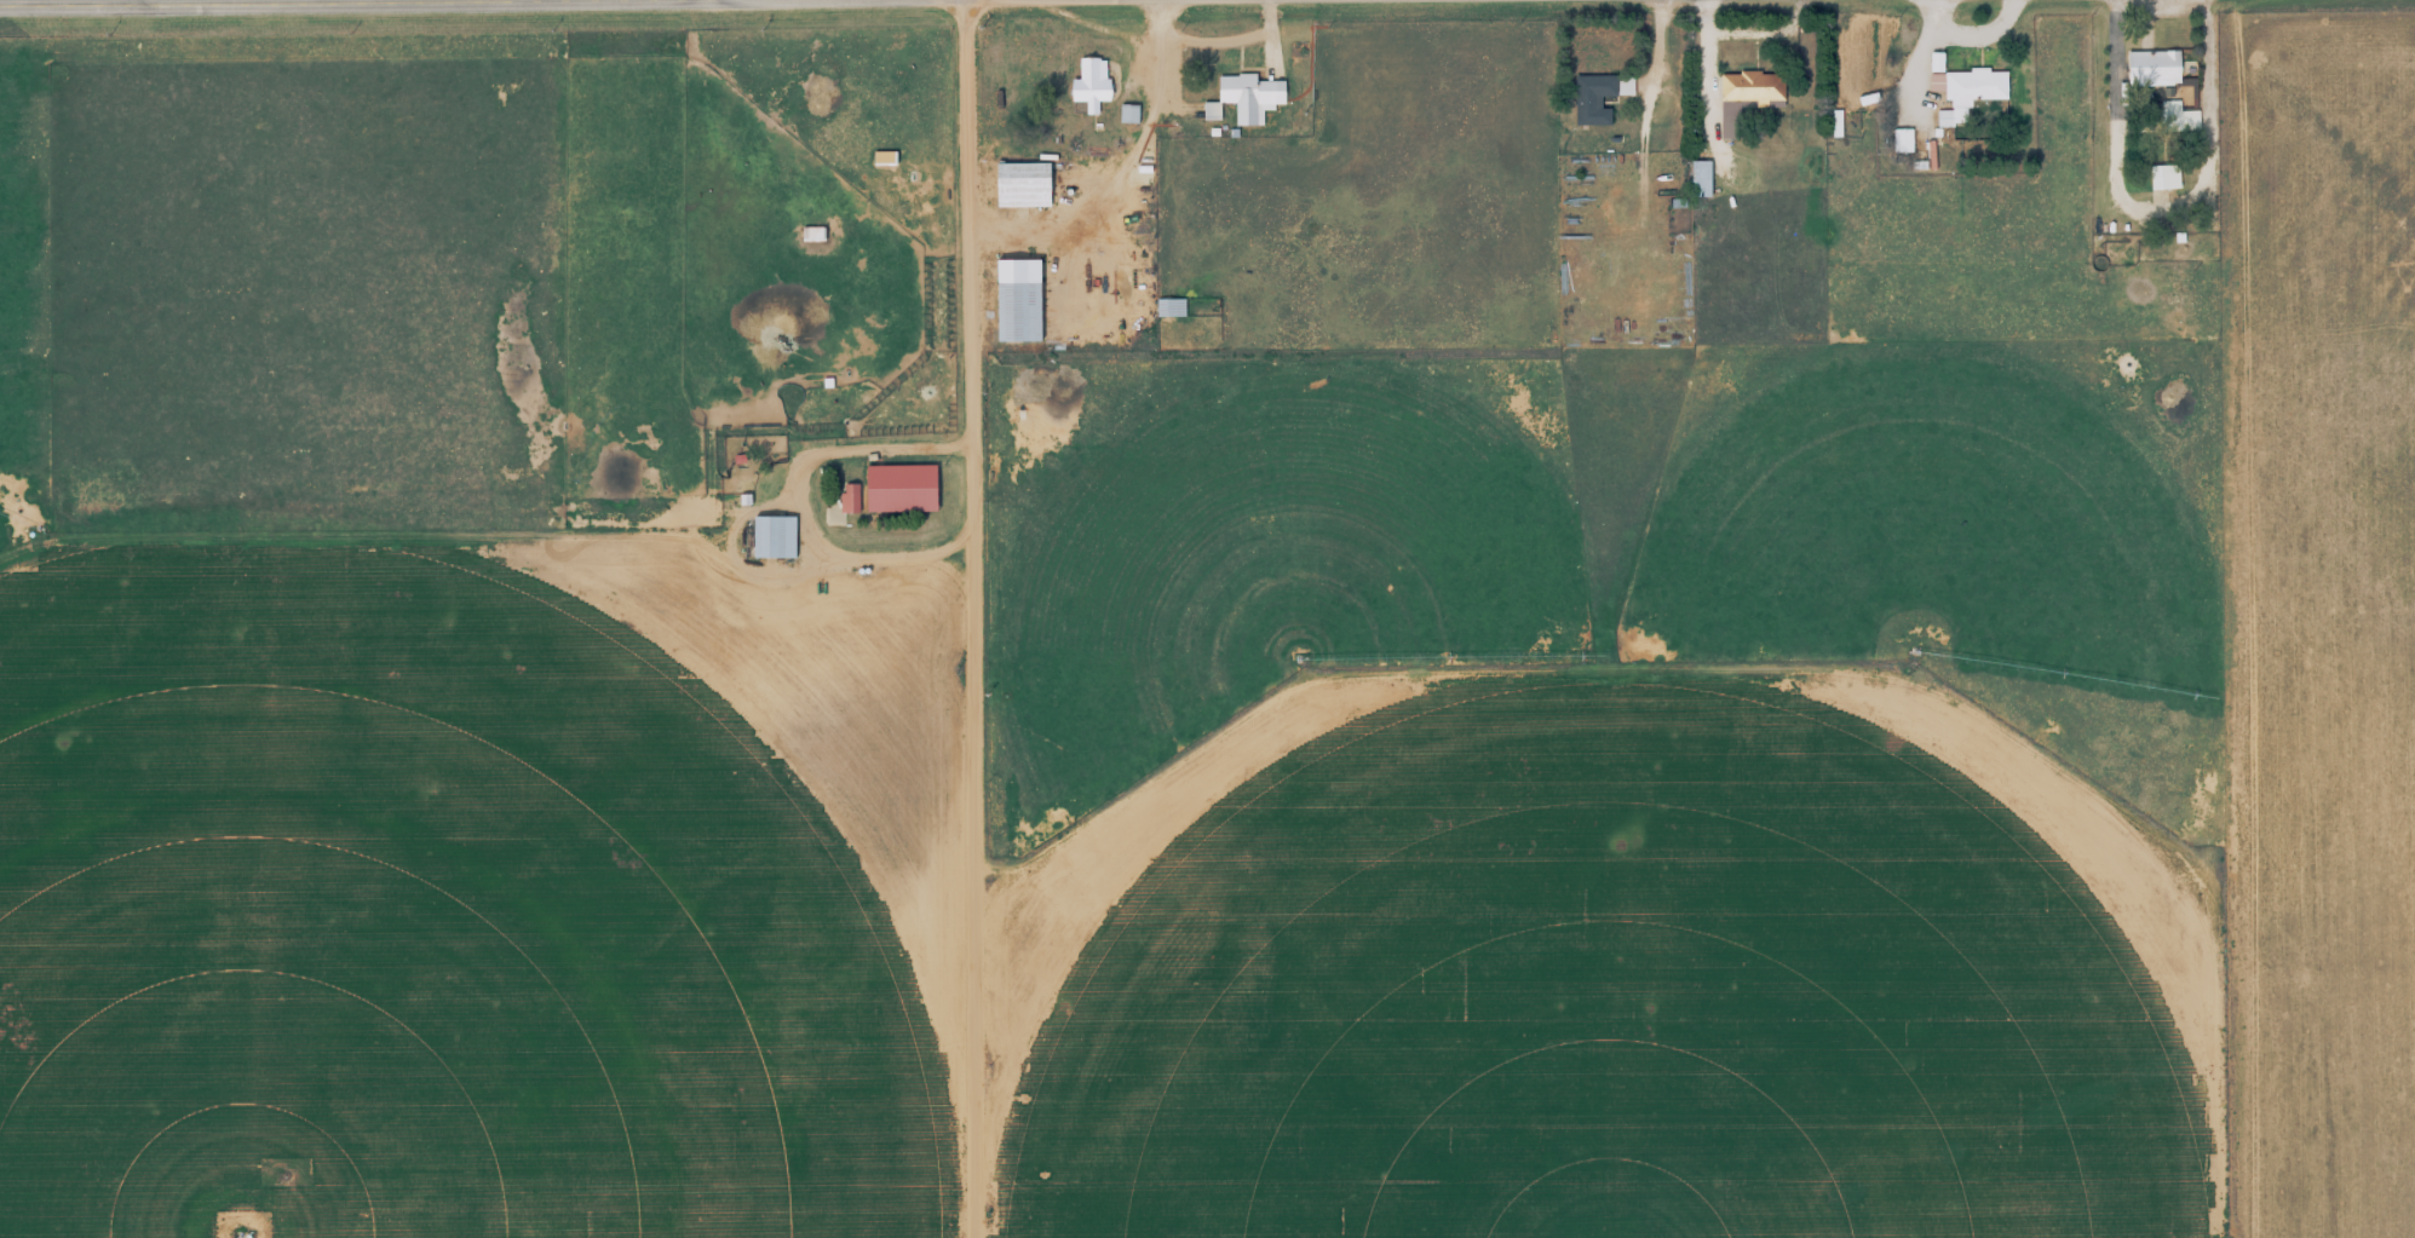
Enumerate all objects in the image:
road: (649, 6)
building: (1087, 85)
building: (1971, 87)
building: (2161, 88)
building: (1749, 90)
building: (1595, 98)
building: (1242, 99)
building: (1126, 115)
building: (1950, 119)
building: (880, 160)
building: (2162, 178)
building: (1697, 179)
building: (1018, 185)
building: (809, 235)
building: (1167, 309)
building: (1011, 312)
building: (896, 490)
building: (847, 499)
building: (769, 537)
road: (976, 618)
road: (2214, 618)
road: (659, 1188)

